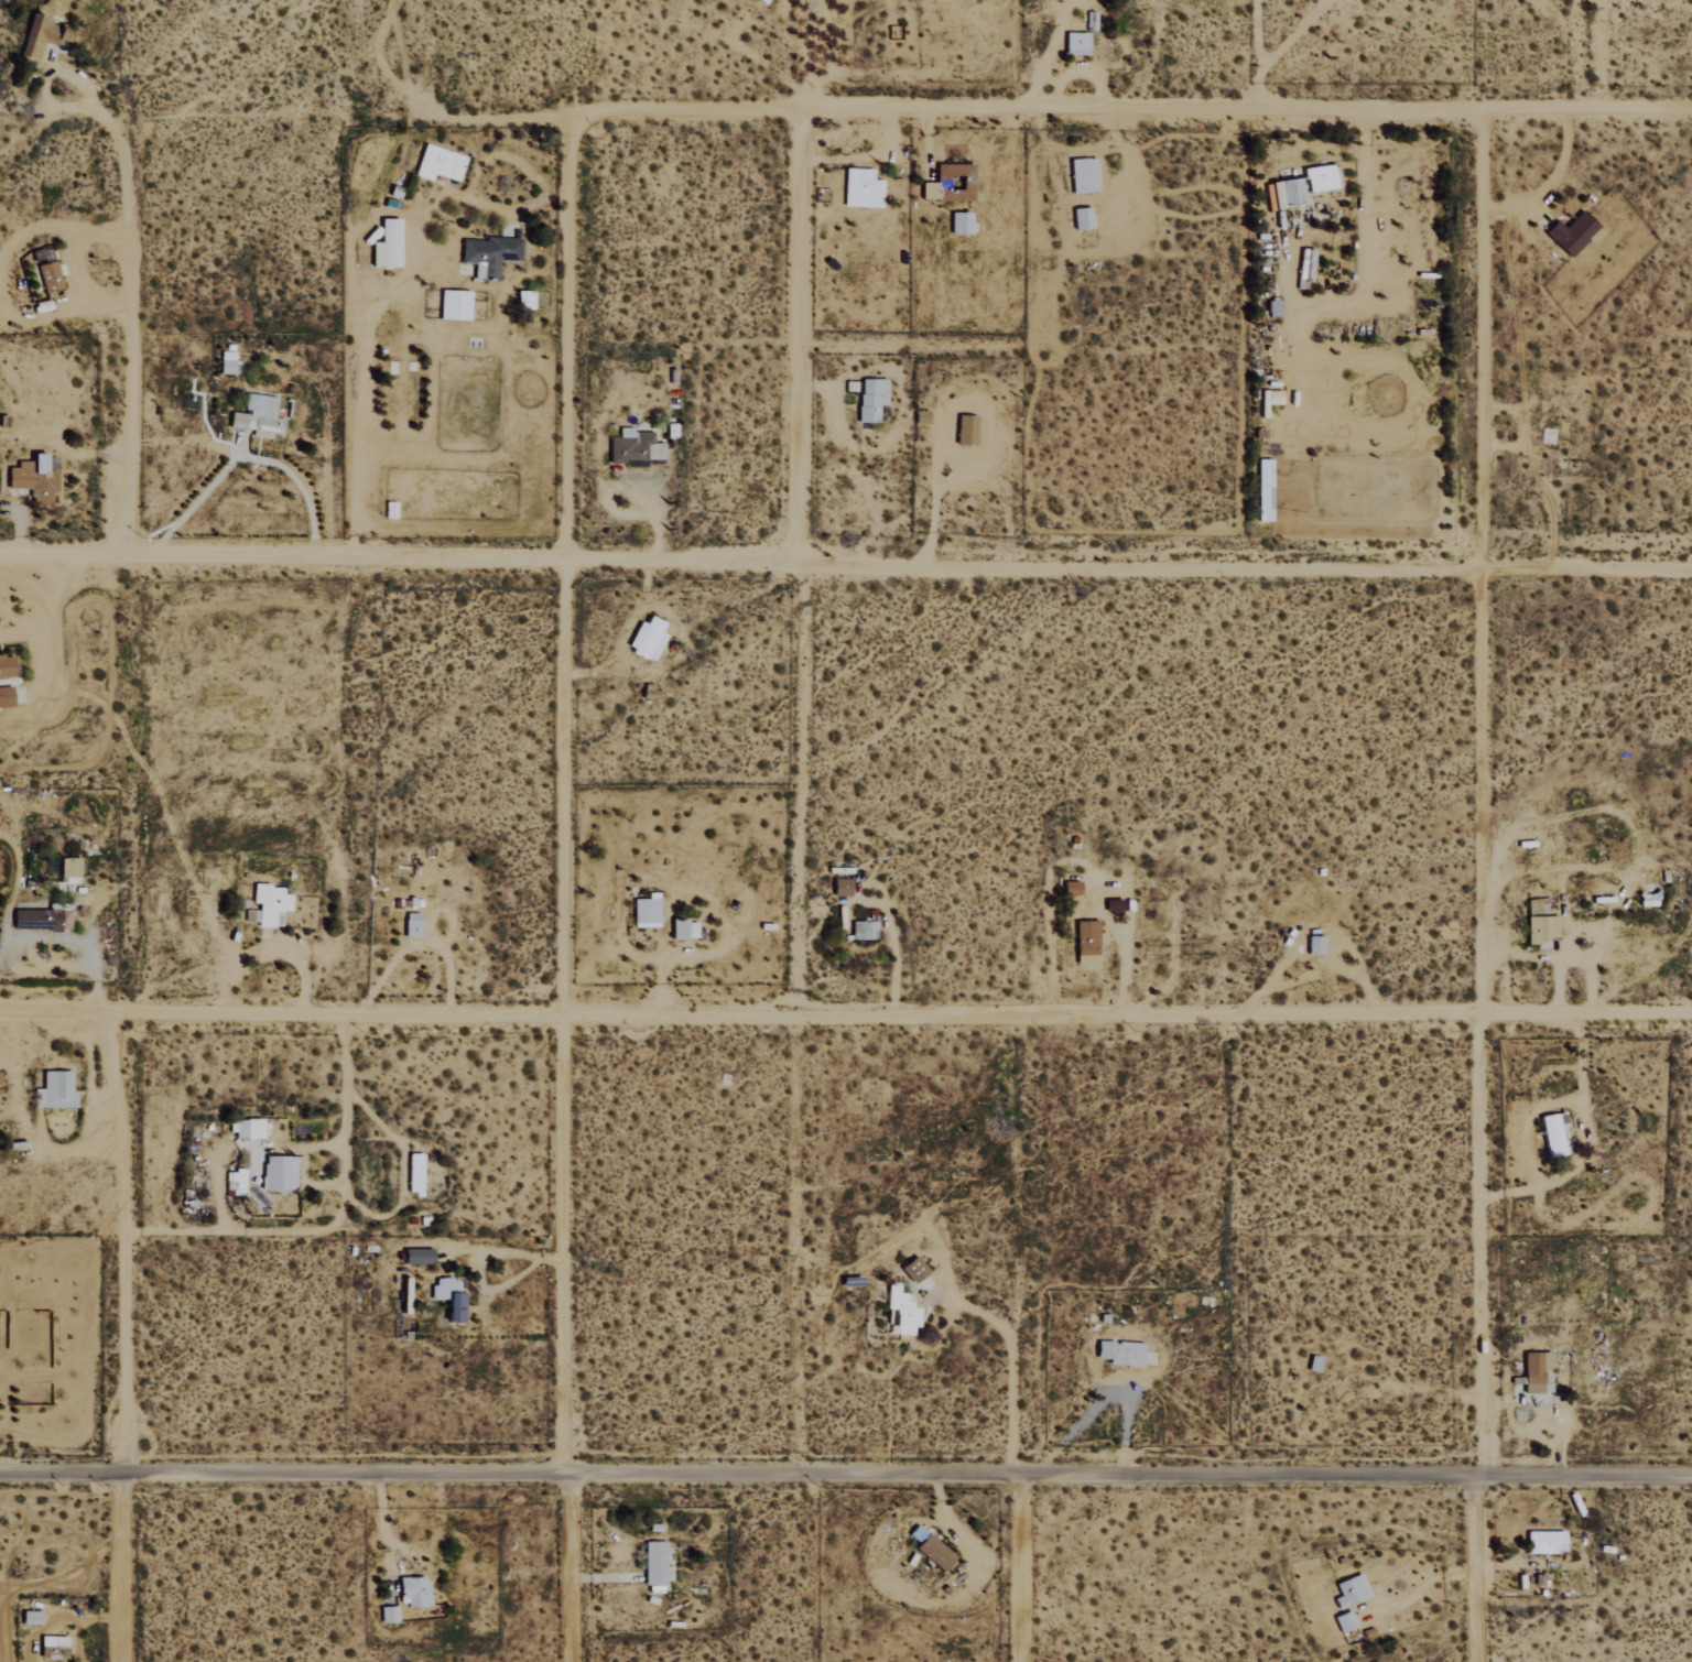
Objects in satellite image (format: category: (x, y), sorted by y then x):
building: (40, 36)
building: (1076, 43)
road: (1121, 111)
building: (438, 164)
building: (1084, 175)
building: (1322, 178)
building: (861, 189)
building: (930, 191)
building: (1287, 193)
building: (1082, 219)
building: (961, 224)
building: (1572, 233)
building: (387, 246)
building: (488, 256)
building: (48, 276)
building: (1273, 311)
road: (119, 326)
building: (226, 362)
building: (1271, 398)
building: (871, 399)
building: (258, 416)
building: (921, 417)
building: (966, 431)
building: (1548, 438)
building: (633, 448)
road: (248, 457)
building: (34, 478)
building: (1263, 481)
road: (739, 561)
road: (796, 565)
road: (563, 567)
road: (1585, 568)
building: (647, 639)
building: (6, 667)
building: (651, 694)
road: (1480, 796)
building: (664, 862)
building: (68, 868)
building: (842, 888)
building: (1071, 889)
building: (270, 905)
building: (647, 912)
building: (42, 921)
building: (684, 930)
building: (864, 931)
building: (1536, 933)
building: (1086, 944)
building: (1315, 946)
road: (846, 1015)
building: (54, 1090)
building: (248, 1129)
building: (1554, 1134)
building: (279, 1173)
building: (414, 1173)
road: (112, 1242)
road: (563, 1246)
building: (416, 1257)
building: (913, 1270)
building: (452, 1299)
building: (1121, 1353)
building: (1537, 1372)
road: (846, 1475)
road: (1476, 1495)
building: (1545, 1542)
building: (934, 1553)
building: (654, 1563)
road: (120, 1567)
road: (566, 1568)
road: (1018, 1569)
road: (1473, 1588)
building: (1351, 1592)
building: (388, 1615)

